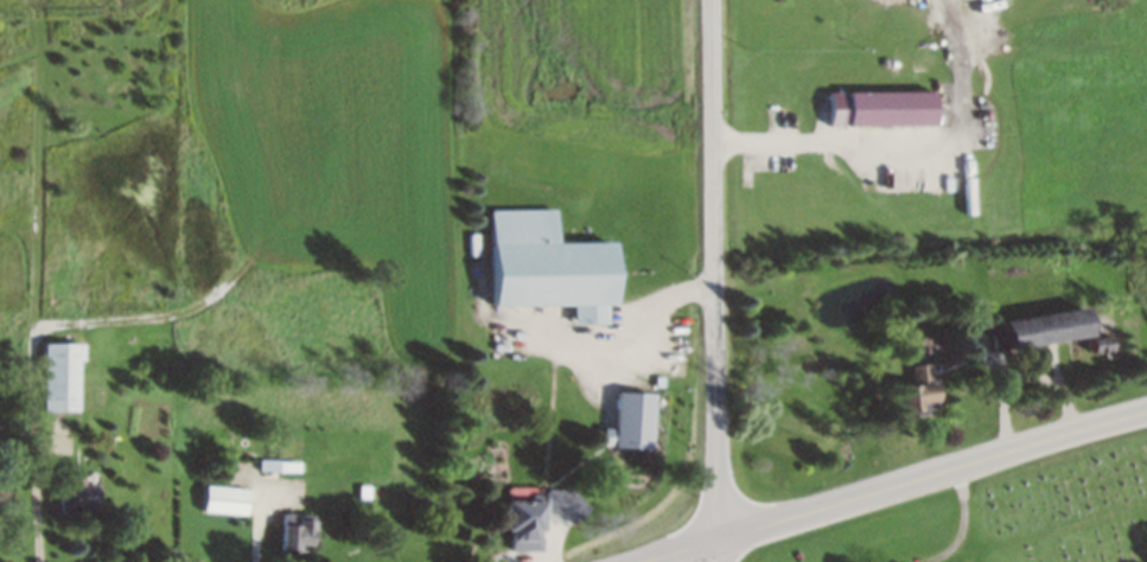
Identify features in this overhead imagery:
building: (891, 108)
road: (903, 140)
building: (552, 266)
road: (714, 280)
building: (1054, 327)
building: (62, 376)
building: (924, 390)
building: (633, 421)
road: (899, 486)
building: (78, 494)
building: (225, 499)
building: (567, 502)
building: (525, 523)
building: (297, 534)

